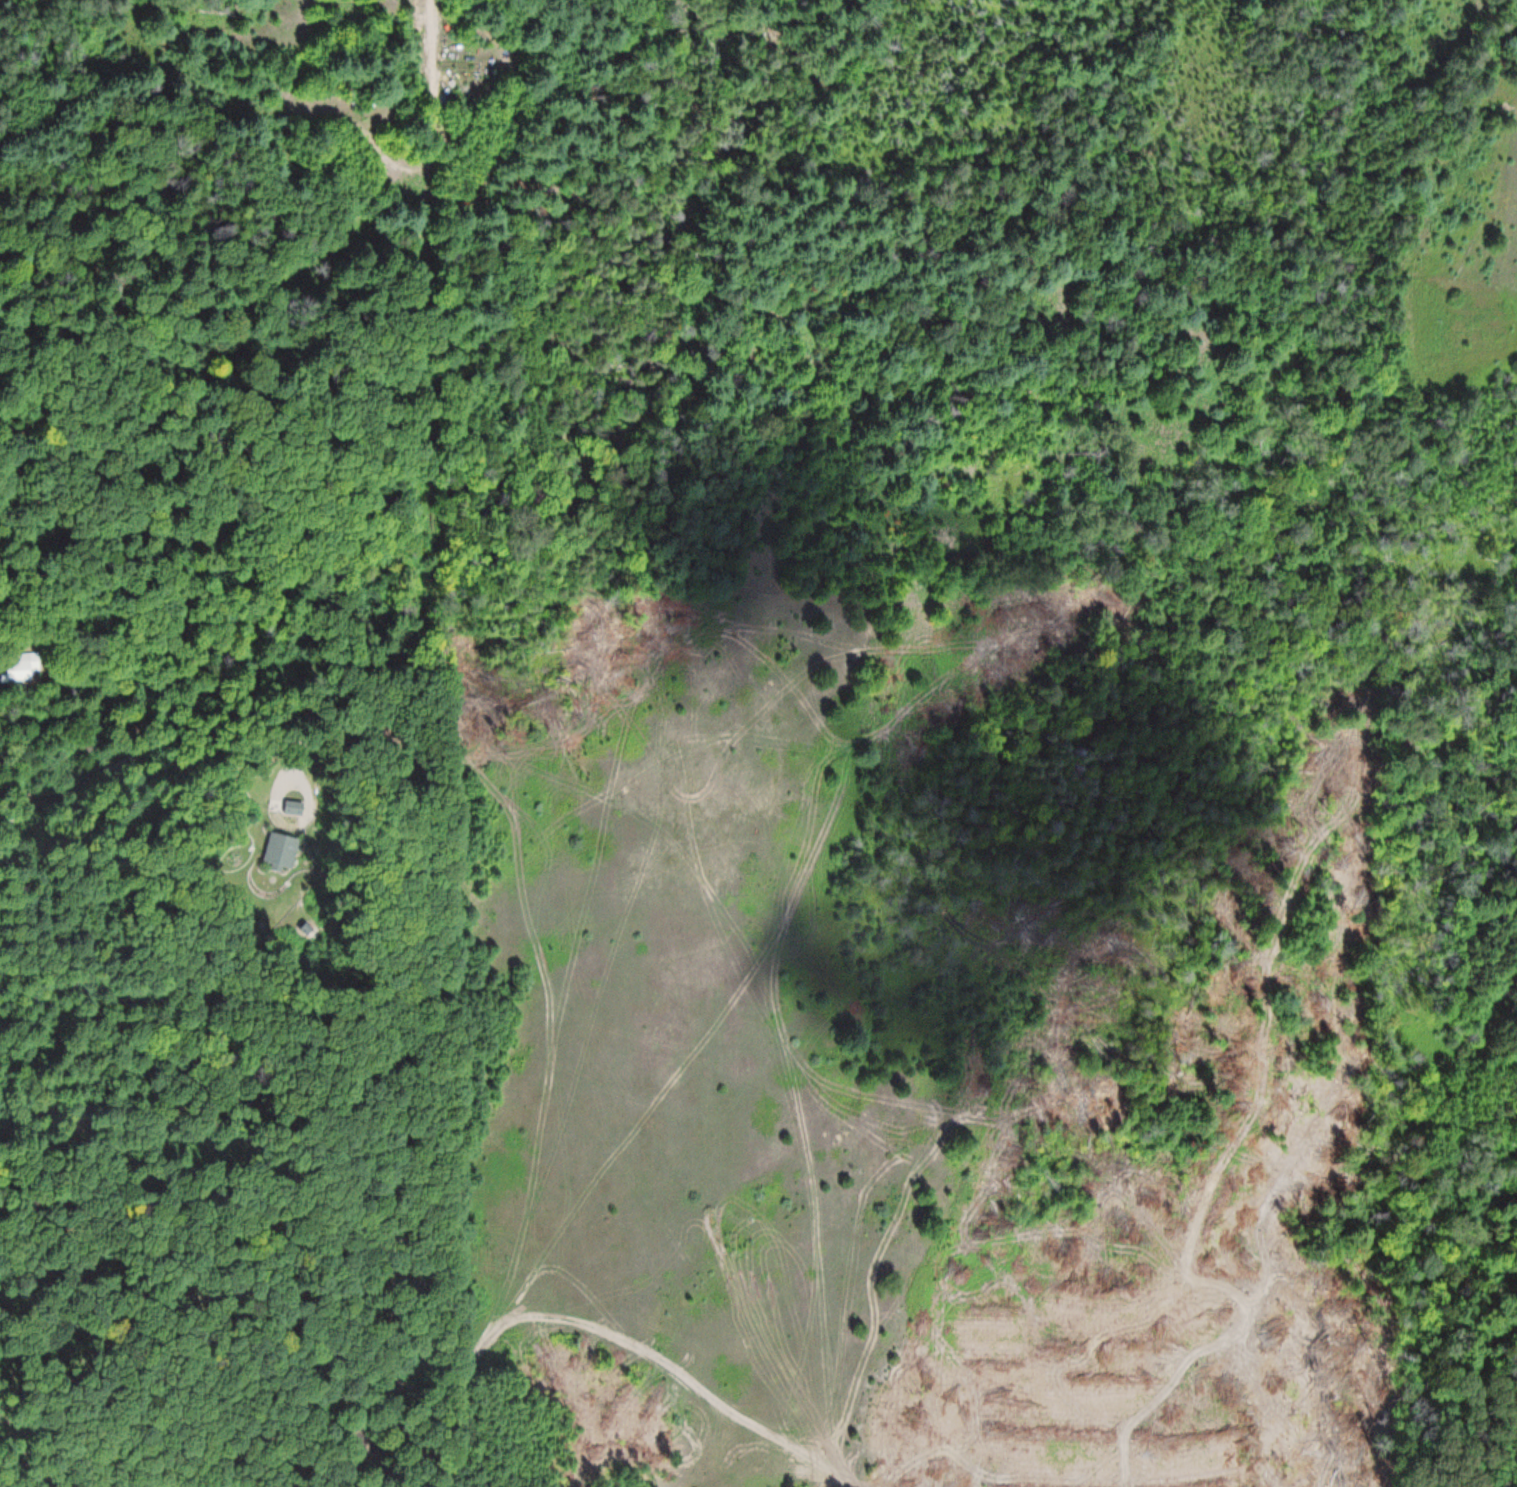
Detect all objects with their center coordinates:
building: (20, 665)
road: (186, 704)

